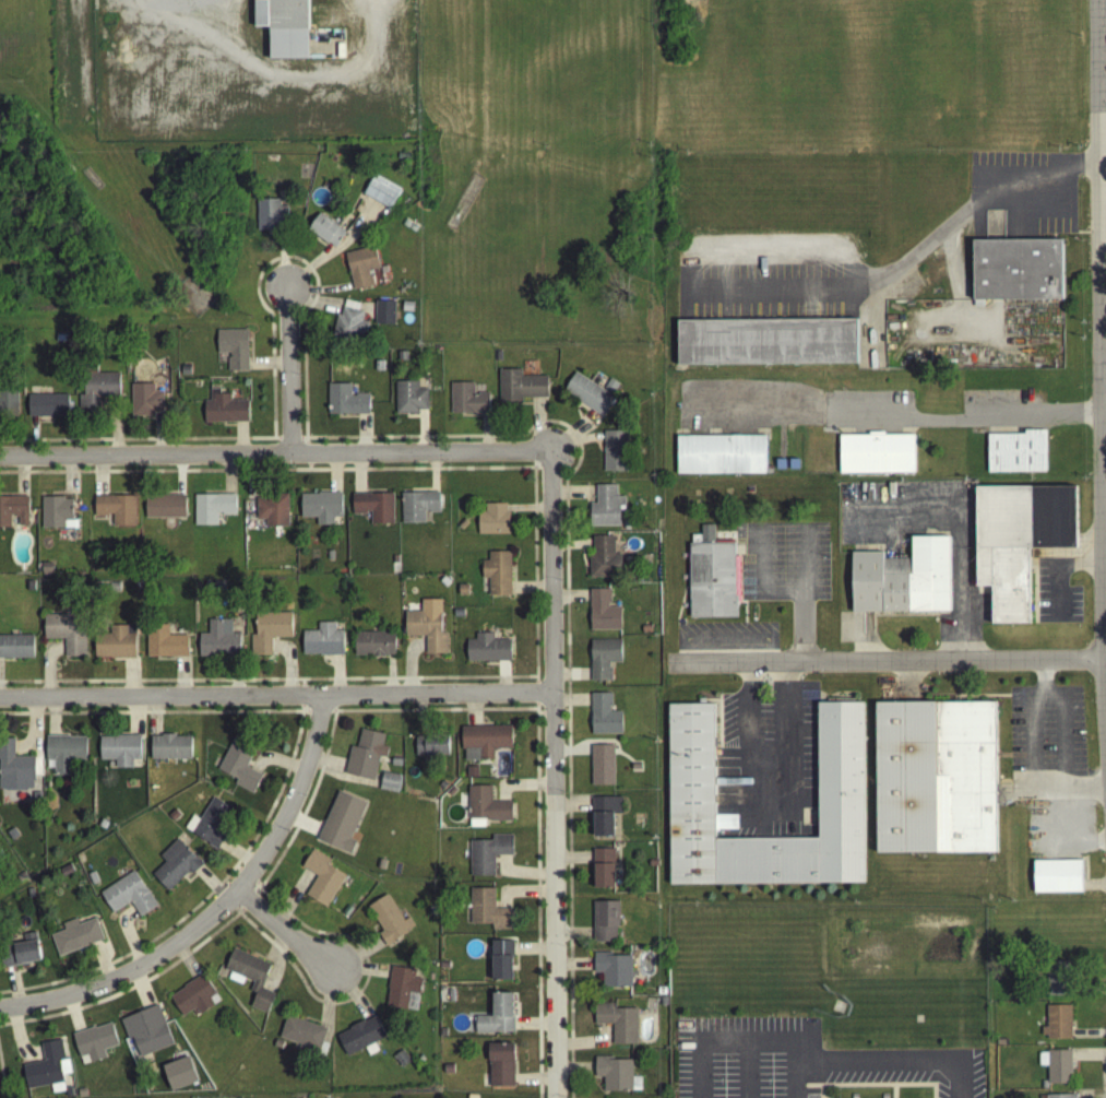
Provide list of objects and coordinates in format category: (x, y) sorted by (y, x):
building: (284, 29)
road: (80, 52)
road: (280, 82)
road: (1103, 138)
building: (402, 161)
road: (1034, 185)
building: (381, 197)
parking lot: (1023, 197)
building: (462, 208)
road: (994, 208)
building: (270, 220)
road: (374, 222)
road: (994, 231)
road: (950, 233)
building: (326, 234)
road: (1104, 247)
road: (334, 253)
road: (280, 263)
road: (282, 264)
street lamp: (296, 269)
building: (360, 271)
building: (1016, 274)
road: (837, 295)
road: (319, 296)
parking lot: (769, 296)
building: (194, 297)
road: (328, 307)
building: (349, 309)
building: (406, 310)
building: (383, 318)
road: (992, 320)
road: (919, 328)
building: (349, 329)
road: (1102, 343)
building: (766, 346)
building: (233, 353)
road: (1104, 353)
building: (401, 361)
building: (497, 361)
road: (266, 368)
building: (378, 370)
building: (185, 375)
road: (287, 375)
street lamp: (298, 381)
building: (520, 390)
building: (96, 395)
building: (586, 398)
building: (408, 402)
building: (466, 403)
building: (144, 404)
building: (345, 405)
building: (9, 406)
building: (47, 410)
building: (224, 413)
road: (894, 415)
road: (114, 430)
road: (536, 430)
road: (582, 432)
road: (421, 436)
road: (157, 437)
road: (486, 437)
road: (361, 438)
road: (32, 440)
road: (573, 440)
road: (584, 441)
road: (239, 442)
road: (288, 442)
road: (301, 442)
road: (135, 445)
road: (305, 446)
road: (558, 451)
building: (614, 456)
building: (1015, 457)
road: (274, 458)
building: (876, 458)
road: (306, 459)
building: (720, 459)
road: (540, 465)
street lamp: (450, 469)
street lamp: (572, 469)
building: (780, 469)
building: (793, 469)
street lamp: (292, 471)
street lamp: (150, 472)
road: (307, 472)
street lamp: (3, 473)
road: (370, 474)
road: (334, 477)
road: (357, 477)
road: (432, 477)
road: (70, 479)
road: (179, 479)
road: (228, 479)
road: (22, 480)
road: (100, 480)
road: (249, 482)
road: (572, 497)
building: (417, 510)
building: (164, 511)
building: (320, 511)
building: (372, 511)
building: (605, 511)
building: (212, 512)
road: (527, 512)
building: (116, 513)
building: (272, 513)
building: (13, 515)
building: (55, 516)
building: (492, 523)
building: (462, 529)
road: (962, 530)
road: (1105, 535)
building: (1018, 544)
road: (570, 551)
road: (1066, 558)
building: (329, 559)
building: (603, 563)
building: (394, 564)
parking lot: (895, 564)
parking lot: (783, 566)
building: (46, 571)
building: (497, 578)
building: (711, 582)
road: (1055, 582)
building: (902, 585)
building: (443, 586)
street lamp: (561, 587)
road: (530, 593)
building: (462, 594)
road: (783, 598)
parking lot: (1056, 598)
road: (569, 600)
road: (1105, 606)
road: (739, 607)
building: (602, 616)
building: (456, 617)
road: (744, 617)
building: (426, 630)
road: (802, 633)
building: (67, 636)
building: (269, 636)
parking lot: (725, 641)
road: (867, 641)
road: (726, 644)
building: (217, 646)
building: (322, 646)
building: (164, 647)
building: (115, 648)
building: (373, 648)
building: (16, 651)
building: (487, 653)
road: (1105, 654)
road: (725, 657)
building: (603, 663)
road: (884, 666)
road: (407, 668)
road: (287, 669)
road: (45, 670)
road: (389, 678)
road: (570, 678)
road: (235, 680)
road: (337, 680)
road: (129, 681)
road: (179, 681)
road: (502, 682)
road: (1043, 682)
road: (419, 683)
road: (150, 685)
road: (300, 687)
street lamp: (453, 687)
road: (907, 687)
street lamp: (319, 688)
street lamp: (167, 689)
street lamp: (23, 692)
road: (535, 697)
street lamp: (561, 697)
road: (275, 699)
road: (1046, 699)
road: (300, 700)
road: (570, 704)
road: (535, 710)
road: (473, 715)
road: (318, 716)
road: (549, 717)
road: (153, 718)
road: (537, 718)
road: (420, 719)
road: (53, 720)
road: (134, 720)
road: (153, 720)
building: (603, 720)
road: (32, 733)
parking lot: (1046, 736)
building: (485, 744)
building: (431, 751)
building: (169, 752)
building: (120, 754)
building: (63, 757)
road: (570, 757)
building: (690, 758)
building: (364, 759)
road: (274, 765)
road: (324, 767)
building: (395, 767)
parking lot: (766, 767)
building: (239, 768)
building: (599, 769)
road: (37, 770)
building: (635, 771)
building: (15, 772)
building: (471, 777)
road: (551, 778)
road: (350, 782)
building: (936, 782)
road: (518, 783)
building: (389, 786)
building: (441, 790)
road: (1050, 794)
building: (450, 795)
building: (840, 798)
street lamp: (563, 799)
building: (36, 802)
street lamp: (305, 802)
road: (537, 804)
road: (306, 807)
road: (571, 808)
road: (289, 811)
building: (486, 811)
road: (769, 811)
building: (173, 819)
building: (604, 819)
road: (301, 826)
building: (211, 827)
building: (340, 827)
building: (102, 828)
road: (1059, 829)
parking lot: (1059, 835)
building: (11, 838)
road: (1082, 845)
building: (691, 849)
road: (237, 858)
building: (487, 858)
road: (571, 861)
building: (766, 865)
building: (651, 867)
building: (380, 869)
building: (175, 870)
building: (602, 872)
building: (64, 875)
road: (520, 877)
road: (243, 878)
building: (1056, 881)
building: (92, 883)
building: (321, 883)
building: (0, 889)
road: (211, 889)
road: (1093, 889)
road: (255, 890)
road: (521, 897)
building: (28, 898)
building: (127, 899)
road: (219, 899)
road: (292, 902)
road: (568, 902)
road: (200, 906)
road: (228, 910)
road: (245, 910)
building: (346, 916)
building: (488, 916)
street lamp: (229, 919)
building: (388, 924)
building: (604, 926)
road: (283, 935)
road: (572, 940)
road: (127, 941)
building: (75, 943)
road: (533, 953)
street lamp: (563, 953)
building: (20, 957)
road: (356, 958)
road: (274, 965)
building: (500, 965)
road: (185, 966)
road: (102, 967)
building: (442, 969)
road: (573, 969)
building: (613, 973)
road: (359, 975)
road: (121, 981)
building: (251, 982)
building: (1059, 982)
street lamp: (308, 991)
road: (362, 991)
building: (401, 991)
road: (12, 992)
road: (131, 993)
road: (1089, 993)
road: (140, 994)
building: (659, 995)
street lamp: (107, 999)
road: (349, 999)
building: (449, 1000)
building: (193, 1001)
building: (663, 1006)
road: (326, 1011)
road: (71, 1019)
building: (496, 1020)
road: (322, 1027)
road: (533, 1027)
building: (616, 1027)
building: (1056, 1027)
building: (146, 1036)
building: (301, 1037)
building: (442, 1037)
road: (1087, 1037)
building: (360, 1041)
road: (16, 1046)
building: (94, 1047)
road: (582, 1047)
road: (736, 1048)
road: (1087, 1060)
building: (401, 1063)
building: (418, 1064)
parking lot: (802, 1064)
road: (902, 1069)
building: (500, 1070)
road: (807, 1070)
building: (1055, 1070)
building: (46, 1072)
road: (573, 1072)
building: (447, 1073)
road: (745, 1073)
building: (613, 1077)
building: (179, 1078)
road: (533, 1082)
road: (797, 1084)
road: (0, 1090)
road: (870, 1090)
road: (870, 1090)
road: (820, 1094)
road: (893, 1094)
building: (67, 1095)
building: (81, 1095)

